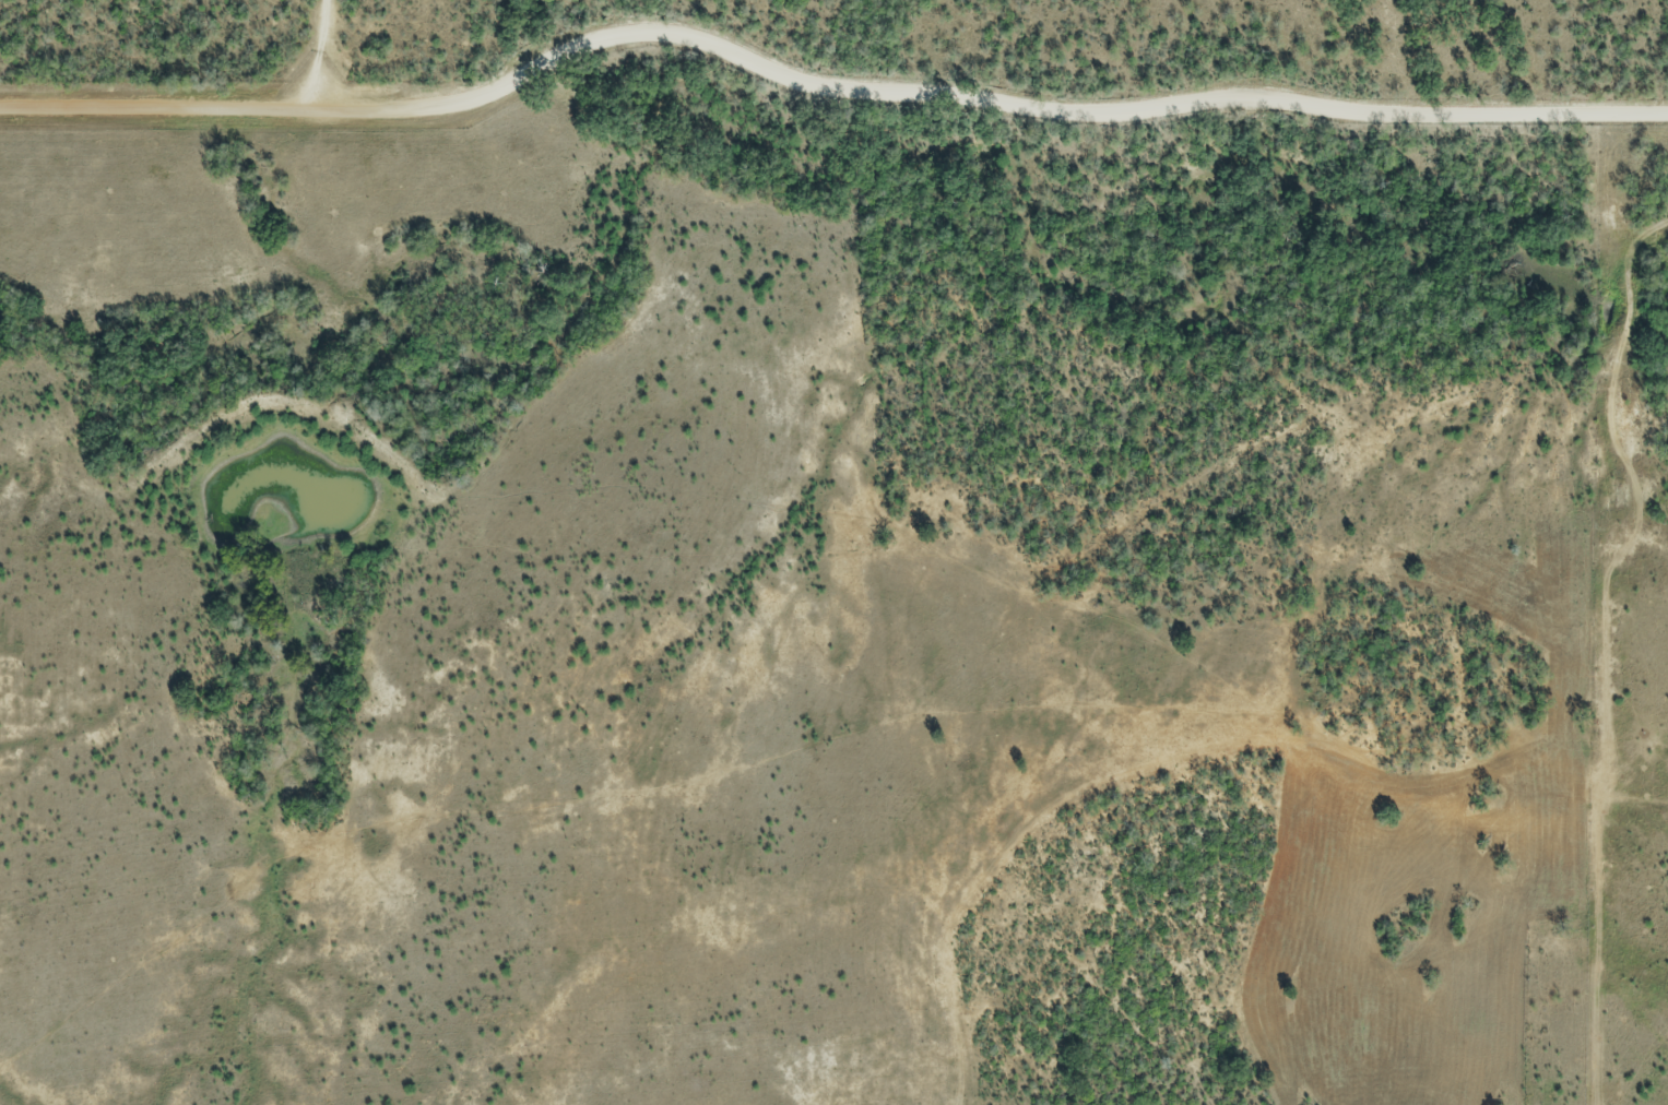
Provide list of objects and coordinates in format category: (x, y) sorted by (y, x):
road: (317, 57)
road: (824, 78)

